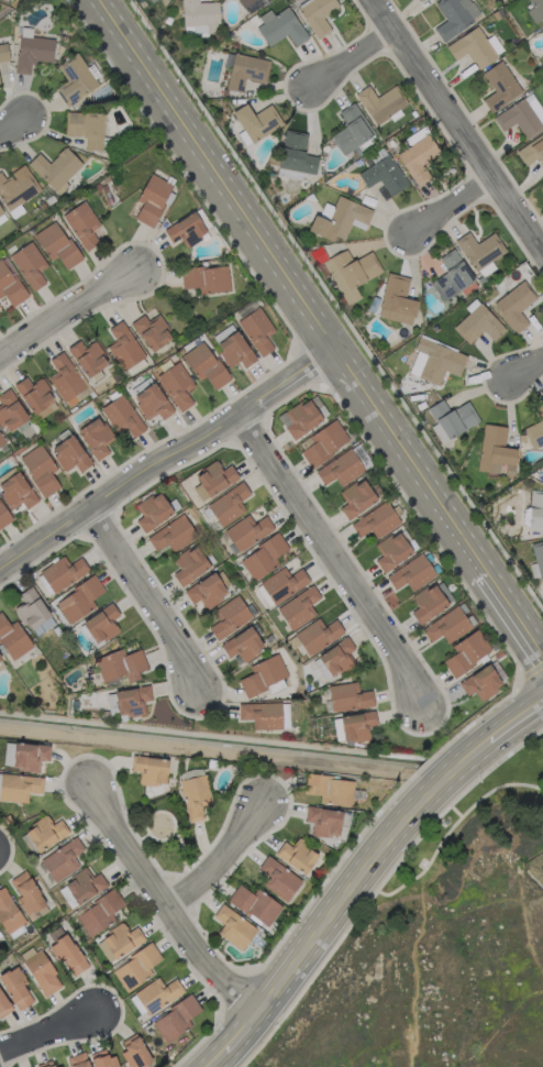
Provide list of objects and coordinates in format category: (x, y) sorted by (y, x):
building: (149, 0)
building: (244, 2)
building: (535, 11)
building: (315, 14)
building: (454, 15)
building: (199, 16)
building: (279, 25)
building: (472, 47)
building: (32, 52)
building: (3, 53)
road: (355, 58)
building: (244, 70)
building: (74, 79)
building: (499, 86)
building: (379, 101)
building: (522, 116)
road: (13, 120)
building: (256, 121)
road: (457, 121)
building: (85, 127)
building: (351, 129)
building: (531, 151)
building: (417, 153)
building: (295, 155)
building: (55, 167)
building: (384, 174)
building: (541, 187)
building: (16, 188)
building: (152, 198)
road: (456, 205)
building: (1, 213)
building: (339, 218)
building: (81, 223)
building: (185, 229)
building: (56, 243)
building: (479, 249)
building: (29, 264)
building: (350, 272)
building: (451, 275)
building: (206, 278)
building: (10, 284)
building: (396, 299)
building: (514, 305)
road: (69, 315)
building: (477, 323)
road: (319, 324)
building: (256, 330)
building: (152, 331)
building: (222, 332)
building: (123, 345)
building: (234, 350)
building: (88, 356)
building: (434, 361)
building: (204, 364)
road: (528, 377)
building: (65, 380)
building: (176, 384)
building: (34, 393)
building: (151, 402)
building: (10, 410)
building: (121, 415)
building: (301, 416)
building: (451, 419)
building: (535, 428)
building: (95, 437)
building: (1, 440)
building: (322, 442)
building: (495, 450)
building: (69, 453)
road: (167, 457)
building: (340, 468)
building: (40, 469)
building: (213, 479)
building: (15, 491)
building: (355, 497)
building: (228, 503)
building: (535, 509)
building: (152, 510)
building: (3, 516)
building: (376, 520)
building: (246, 530)
building: (171, 533)
building: (391, 550)
building: (263, 555)
building: (538, 555)
road: (331, 561)
building: (189, 563)
building: (62, 572)
building: (411, 573)
building: (282, 583)
building: (208, 588)
road: (143, 596)
building: (78, 598)
building: (430, 601)
building: (27, 603)
building: (298, 606)
building: (229, 617)
building: (101, 623)
building: (445, 625)
building: (317, 634)
building: (12, 638)
building: (242, 643)
building: (466, 652)
building: (336, 657)
building: (0, 658)
building: (120, 664)
building: (263, 674)
building: (480, 682)
building: (347, 696)
building: (131, 700)
building: (261, 714)
building: (285, 714)
building: (356, 725)
building: (29, 755)
building: (149, 769)
building: (19, 787)
building: (329, 789)
building: (195, 796)
building: (323, 821)
road: (452, 825)
building: (45, 832)
park: (162, 834)
road: (223, 854)
building: (296, 855)
building: (62, 859)
road: (362, 870)
building: (278, 878)
building: (80, 887)
building: (26, 893)
road: (158, 900)
building: (254, 904)
building: (9, 912)
building: (99, 912)
building: (233, 926)
building: (118, 941)
building: (67, 953)
building: (135, 967)
building: (38, 969)
road: (412, 970)
building: (15, 987)
building: (157, 993)
building: (3, 1005)
building: (175, 1018)
road: (55, 1026)
building: (134, 1052)
building: (77, 1059)
building: (101, 1059)
building: (45, 1064)
building: (30, 1066)
building: (58, 1066)

